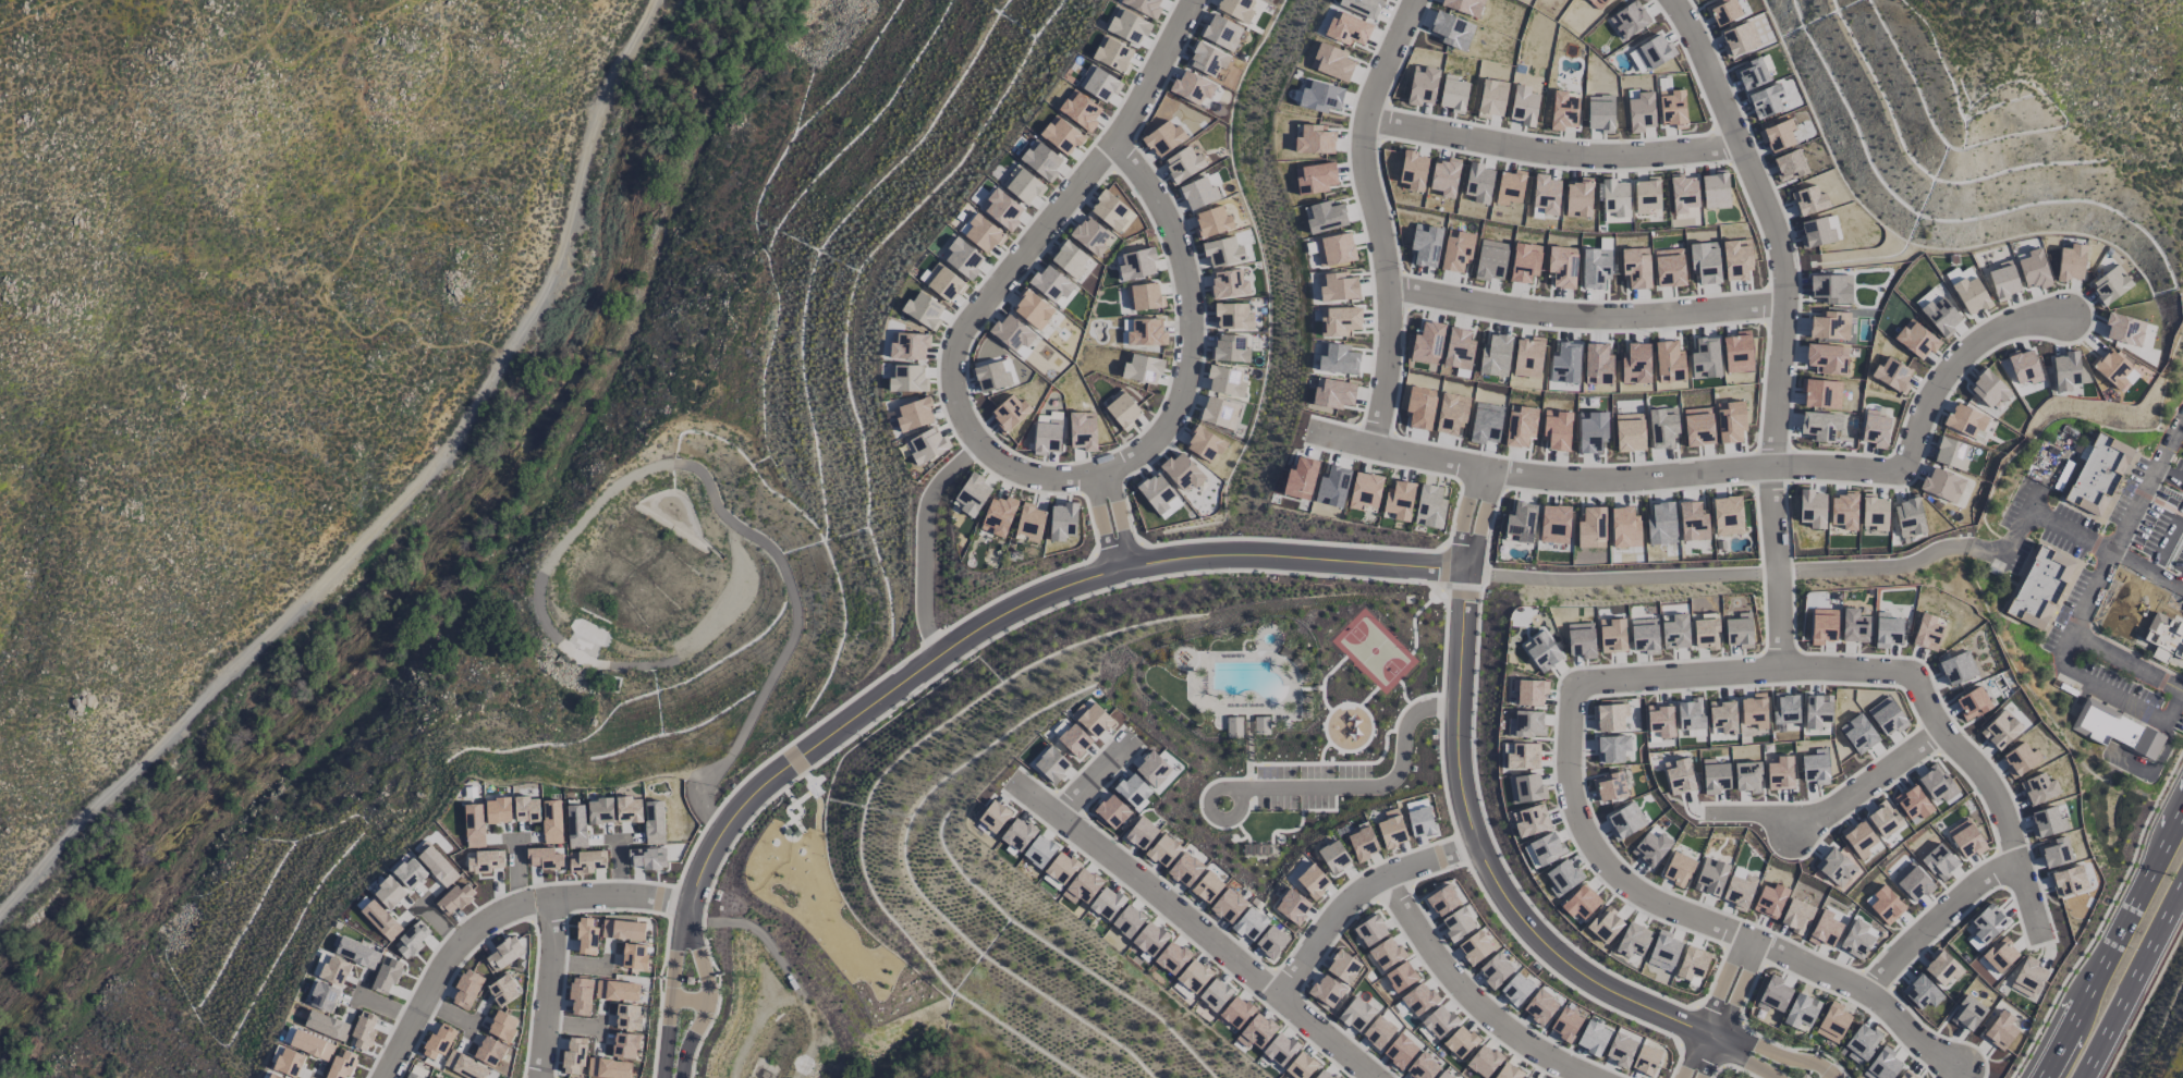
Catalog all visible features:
building: (1143, 5)
building: (1235, 8)
building: (1127, 26)
building: (1220, 32)
road: (318, 50)
building: (1111, 54)
building: (1207, 59)
building: (1331, 62)
road: (1149, 72)
building: (1098, 84)
building: (1192, 87)
building: (1320, 96)
building: (1078, 110)
building: (1061, 135)
building: (1162, 138)
building: (1314, 139)
building: (1783, 149)
road: (1549, 152)
building: (1040, 160)
building: (1182, 163)
building: (1443, 176)
building: (1315, 177)
building: (1478, 182)
building: (1022, 185)
building: (1509, 187)
building: (1197, 193)
building: (1001, 209)
building: (1109, 210)
building: (1326, 217)
road: (1373, 218)
building: (1211, 222)
road: (1768, 223)
building: (980, 232)
building: (1090, 236)
building: (1425, 245)
road: (352, 248)
building: (1334, 249)
building: (1456, 250)
building: (1222, 252)
building: (962, 258)
building: (1069, 259)
building: (1490, 260)
building: (1524, 262)
building: (2071, 262)
building: (1136, 265)
building: (1561, 267)
building: (2033, 269)
building: (2003, 280)
building: (942, 282)
building: (1228, 284)
building: (1052, 285)
building: (2109, 285)
building: (1337, 286)
building: (1830, 289)
building: (1971, 295)
building: (1144, 296)
building: (923, 309)
building: (1033, 309)
building: (1233, 316)
road: (1585, 316)
building: (1940, 316)
road: (967, 319)
building: (1339, 321)
building: (1829, 324)
building: (2123, 329)
building: (1146, 332)
road: (1190, 338)
building: (1915, 339)
building: (1427, 342)
building: (908, 345)
building: (1229, 348)
building: (1459, 348)
building: (1495, 356)
building: (1527, 357)
building: (1337, 358)
building: (1826, 358)
building: (1564, 364)
building: (2023, 366)
building: (1142, 368)
building: (2111, 368)
building: (2065, 370)
building: (1891, 375)
building: (990, 377)
building: (906, 378)
building: (1225, 381)
building: (1988, 388)
building: (1820, 393)
building: (1333, 394)
building: (1122, 409)
building: (1218, 412)
building: (913, 414)
building: (1964, 420)
building: (1730, 421)
building: (1520, 426)
building: (1662, 427)
building: (1698, 427)
building: (1820, 427)
building: (1556, 429)
building: (1874, 430)
building: (1591, 431)
building: (1626, 434)
building: (1204, 443)
building: (926, 445)
building: (1951, 453)
road: (1723, 470)
building: (1182, 473)
road: (637, 474)
road: (2169, 474)
building: (2100, 478)
building: (1941, 486)
building: (1364, 490)
building: (972, 494)
building: (1158, 495)
building: (1399, 500)
road: (2032, 502)
road: (399, 505)
building: (1429, 506)
building: (1812, 509)
building: (1843, 511)
building: (1874, 512)
building: (998, 515)
building: (1727, 515)
road: (1471, 517)
building: (1907, 517)
building: (1029, 522)
road: (1107, 522)
building: (1520, 522)
building: (1693, 522)
building: (1553, 524)
building: (1661, 524)
building: (1624, 527)
building: (1590, 528)
road: (2119, 538)
road: (2178, 538)
road: (920, 541)
road: (1290, 541)
road: (2168, 544)
road: (1115, 549)
road: (2105, 550)
river: (419, 556)
road: (1778, 566)
road: (1439, 569)
road: (1737, 575)
road: (1016, 588)
building: (2042, 590)
road: (1458, 593)
road: (1017, 609)
building: (1822, 626)
building: (1854, 626)
building: (1739, 630)
building: (1887, 630)
road: (2121, 630)
building: (1674, 632)
building: (1927, 632)
building: (1611, 635)
building: (1644, 635)
road: (932, 637)
building: (2163, 638)
road: (1443, 641)
building: (1581, 641)
park: (1373, 651)
building: (1541, 651)
road: (2125, 661)
building: (1955, 667)
road: (941, 671)
building: (1529, 691)
road: (2113, 691)
building: (1972, 703)
road: (2174, 705)
road: (1441, 706)
building: (1784, 708)
building: (1754, 710)
building: (1817, 711)
building: (1690, 714)
building: (1886, 715)
building: (1609, 716)
building: (1722, 716)
park: (1286, 718)
building: (1091, 719)
building: (1660, 720)
building: (1260, 725)
building: (1233, 726)
building: (2000, 728)
building: (2121, 732)
building: (1857, 734)
building: (1074, 740)
road: (1954, 745)
building: (1611, 748)
road: (780, 749)
building: (1523, 757)
building: (2020, 759)
building: (1051, 764)
road: (2156, 765)
building: (1815, 767)
building: (1153, 769)
building: (1779, 773)
building: (1714, 776)
building: (1746, 776)
road: (1089, 779)
building: (1936, 784)
building: (1609, 786)
road: (1365, 788)
building: (1526, 788)
building: (2038, 788)
building: (1132, 789)
building: (1912, 803)
road: (1833, 805)
building: (525, 809)
building: (629, 809)
building: (498, 810)
building: (599, 810)
building: (1111, 811)
building: (993, 817)
building: (1883, 820)
building: (551, 821)
building: (1419, 821)
building: (1530, 821)
building: (1624, 821)
building: (654, 822)
building: (2046, 822)
road: (1790, 824)
building: (474, 825)
building: (575, 826)
building: (1391, 829)
building: (1141, 833)
building: (1017, 834)
building: (1857, 838)
building: (1965, 838)
building: (1362, 844)
building: (1650, 847)
building: (1542, 849)
building: (1162, 850)
building: (1039, 852)
road: (1497, 852)
building: (2053, 852)
building: (1332, 857)
building: (544, 858)
building: (647, 858)
building: (585, 860)
building: (1938, 861)
building: (485, 862)
road: (1483, 862)
road: (1610, 863)
building: (437, 866)
road: (1403, 867)
building: (1834, 867)
building: (1060, 868)
building: (1185, 869)
building: (1678, 869)
building: (410, 873)
building: (1710, 877)
building: (1562, 878)
building: (1312, 881)
building: (2068, 881)
building: (1912, 882)
building: (1082, 886)
building: (1206, 886)
building: (1737, 891)
building: (389, 893)
park: (822, 896)
building: (455, 898)
road: (671, 901)
building: (1442, 901)
building: (1106, 903)
building: (1580, 903)
building: (1228, 905)
building: (1886, 905)
building: (1292, 906)
road: (2102, 916)
road: (495, 917)
road: (1331, 917)
road: (1935, 919)
building: (380, 920)
building: (1127, 921)
road: (1501, 922)
building: (1249, 923)
building: (1987, 923)
building: (1458, 924)
building: (1605, 924)
building: (622, 929)
road: (1194, 930)
building: (1369, 931)
building: (586, 936)
building: (413, 939)
building: (1149, 939)
building: (1270, 942)
road: (2112, 944)
building: (1474, 947)
building: (1663, 951)
building: (357, 953)
building: (503, 954)
building: (1386, 954)
building: (1999, 954)
building: (634, 956)
building: (1172, 957)
road: (1296, 960)
building: (1692, 965)
building: (1342, 967)
building: (1941, 968)
building: (334, 970)
building: (1495, 970)
building: (386, 975)
building: (1193, 976)
building: (2027, 976)
building: (1400, 977)
road: (2130, 977)
building: (466, 989)
road: (541, 989)
building: (1515, 989)
building: (502, 990)
building: (617, 991)
road: (672, 991)
building: (1326, 991)
building: (1920, 992)
road: (702, 994)
building: (1215, 994)
building: (581, 995)
road: (1467, 995)
building: (324, 996)
road: (659, 996)
building: (1418, 999)
road: (687, 1000)
road: (2144, 1002)
building: (1539, 1006)
road: (1725, 1009)
building: (1801, 1010)
building: (1235, 1012)
building: (1356, 1014)
road: (1717, 1014)
building: (627, 1017)
building: (1439, 1019)
building: (1832, 1022)
building: (327, 1025)
building: (1565, 1025)
building: (502, 1026)
building: (364, 1030)
building: (1256, 1031)
building: (1378, 1031)
building: (1591, 1038)
building: (438, 1041)
building: (1460, 1042)
building: (1861, 1043)
building: (312, 1045)
building: (625, 1045)
building: (1280, 1049)
building: (1620, 1049)
road: (1795, 1049)
road: (1776, 1050)
building: (489, 1051)
building: (1400, 1051)
building: (573, 1055)
road: (1699, 1055)
road: (1746, 1057)
building: (1645, 1059)
building: (1483, 1061)
building: (289, 1062)
building: (341, 1065)
building: (1300, 1066)
building: (1422, 1067)
building: (608, 1068)
building: (475, 1069)
road: (1739, 1070)
building: (1508, 1071)
building: (1324, 1074)
building: (413, 1075)
building: (1443, 1075)
road: (1825, 1075)
building: (273, 1076)
building: (1528, 1076)
building: (431, 1077)

